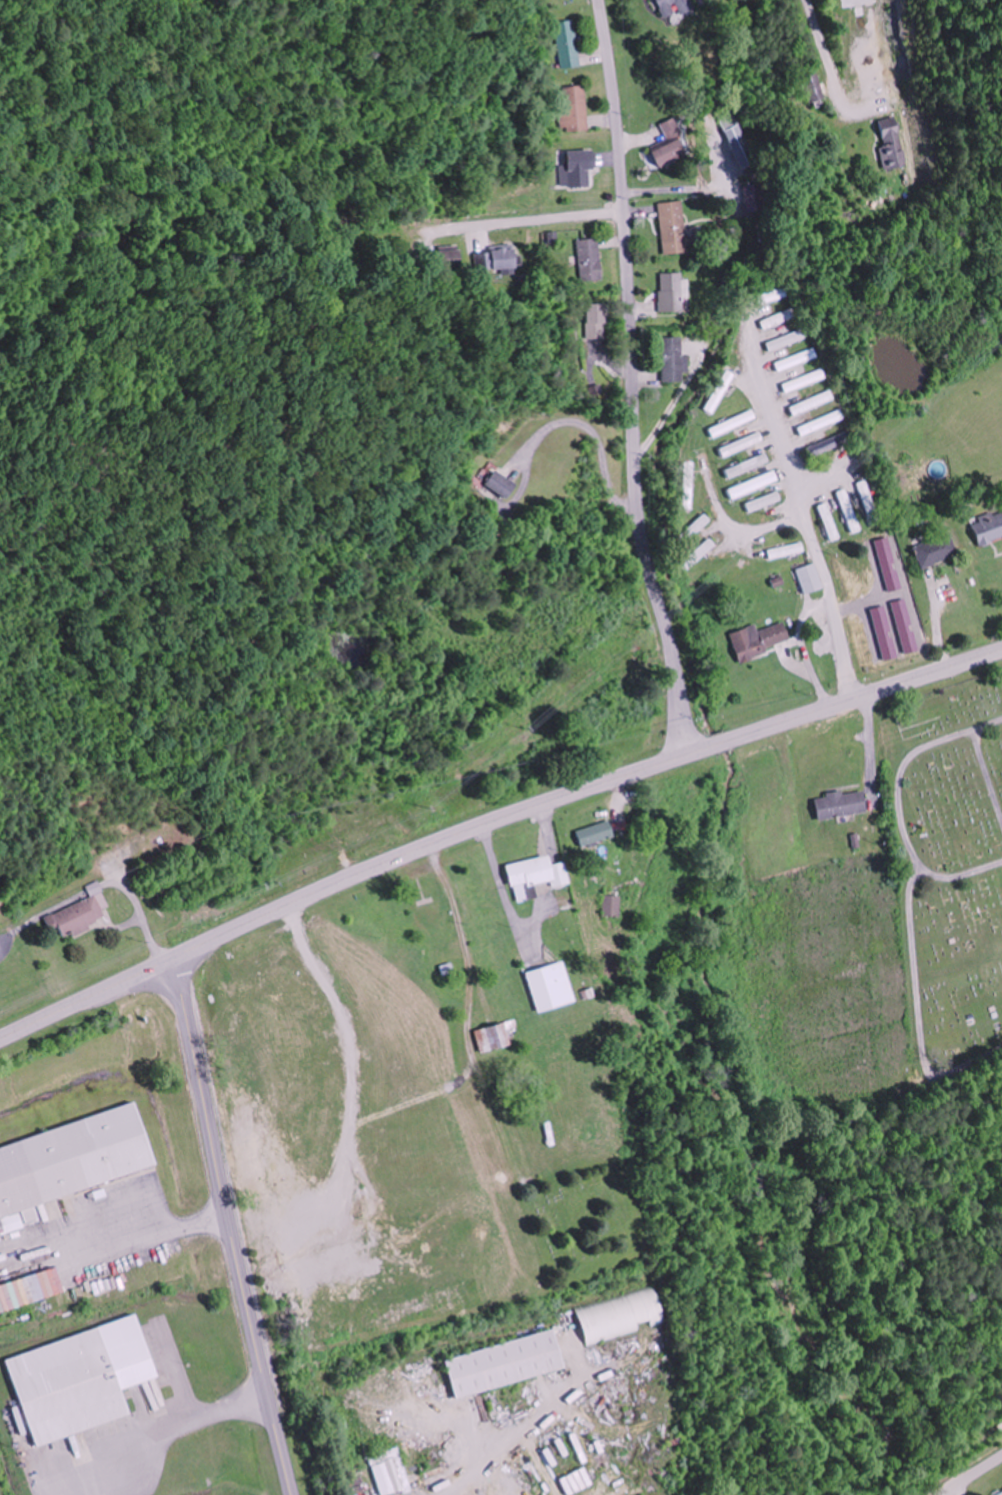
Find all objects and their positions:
building: (859, 3)
building: (674, 7)
building: (568, 40)
road: (819, 48)
building: (813, 87)
building: (576, 109)
building: (894, 143)
building: (671, 145)
building: (578, 169)
building: (674, 228)
building: (451, 255)
building: (496, 258)
building: (591, 259)
building: (675, 292)
building: (775, 296)
building: (781, 319)
building: (597, 320)
building: (790, 339)
building: (673, 358)
building: (798, 359)
road: (633, 379)
building: (806, 381)
building: (814, 402)
road: (765, 404)
building: (734, 423)
building: (823, 423)
building: (830, 444)
building: (749, 465)
road: (817, 471)
building: (503, 482)
building: (755, 484)
building: (871, 502)
building: (851, 510)
road: (731, 519)
building: (832, 521)
building: (989, 526)
building: (697, 527)
building: (788, 550)
building: (938, 550)
building: (700, 554)
building: (813, 578)
road: (836, 601)
building: (762, 639)
road: (903, 759)
road: (987, 768)
building: (843, 804)
road: (492, 822)
building: (597, 833)
road: (961, 868)
park: (948, 874)
building: (543, 879)
building: (614, 907)
building: (81, 914)
building: (431, 914)
building: (446, 954)
building: (551, 987)
road: (919, 1004)
building: (494, 1037)
building: (70, 1163)
park: (594, 1226)
road: (229, 1227)
building: (617, 1317)
building: (507, 1364)
building: (69, 1387)
building: (392, 1472)
road: (969, 1475)
building: (1001, 1494)

